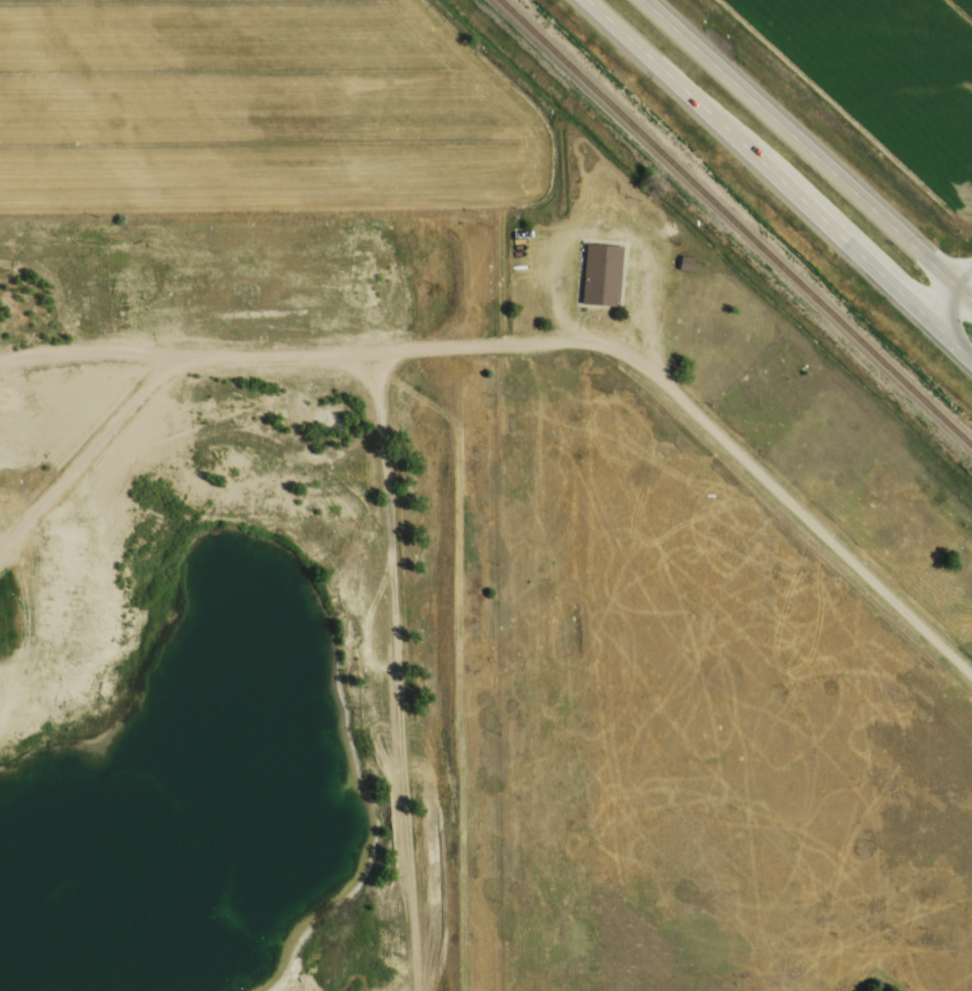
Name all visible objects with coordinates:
road: (810, 147)
road: (778, 180)
railway: (736, 222)
building: (686, 262)
building: (600, 274)
road: (950, 297)
road: (503, 342)
road: (391, 476)
road: (795, 511)

